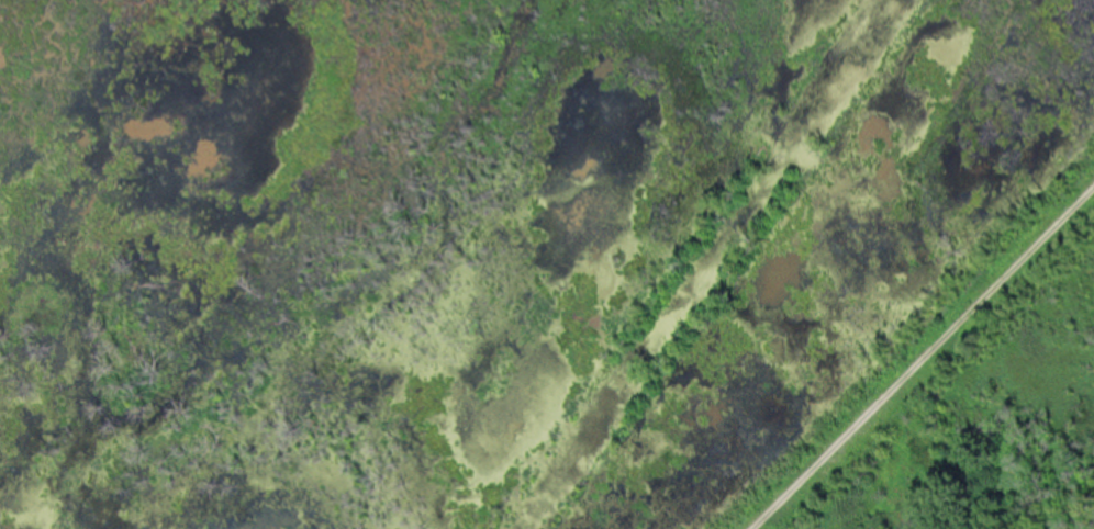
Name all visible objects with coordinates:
road: (924, 361)

